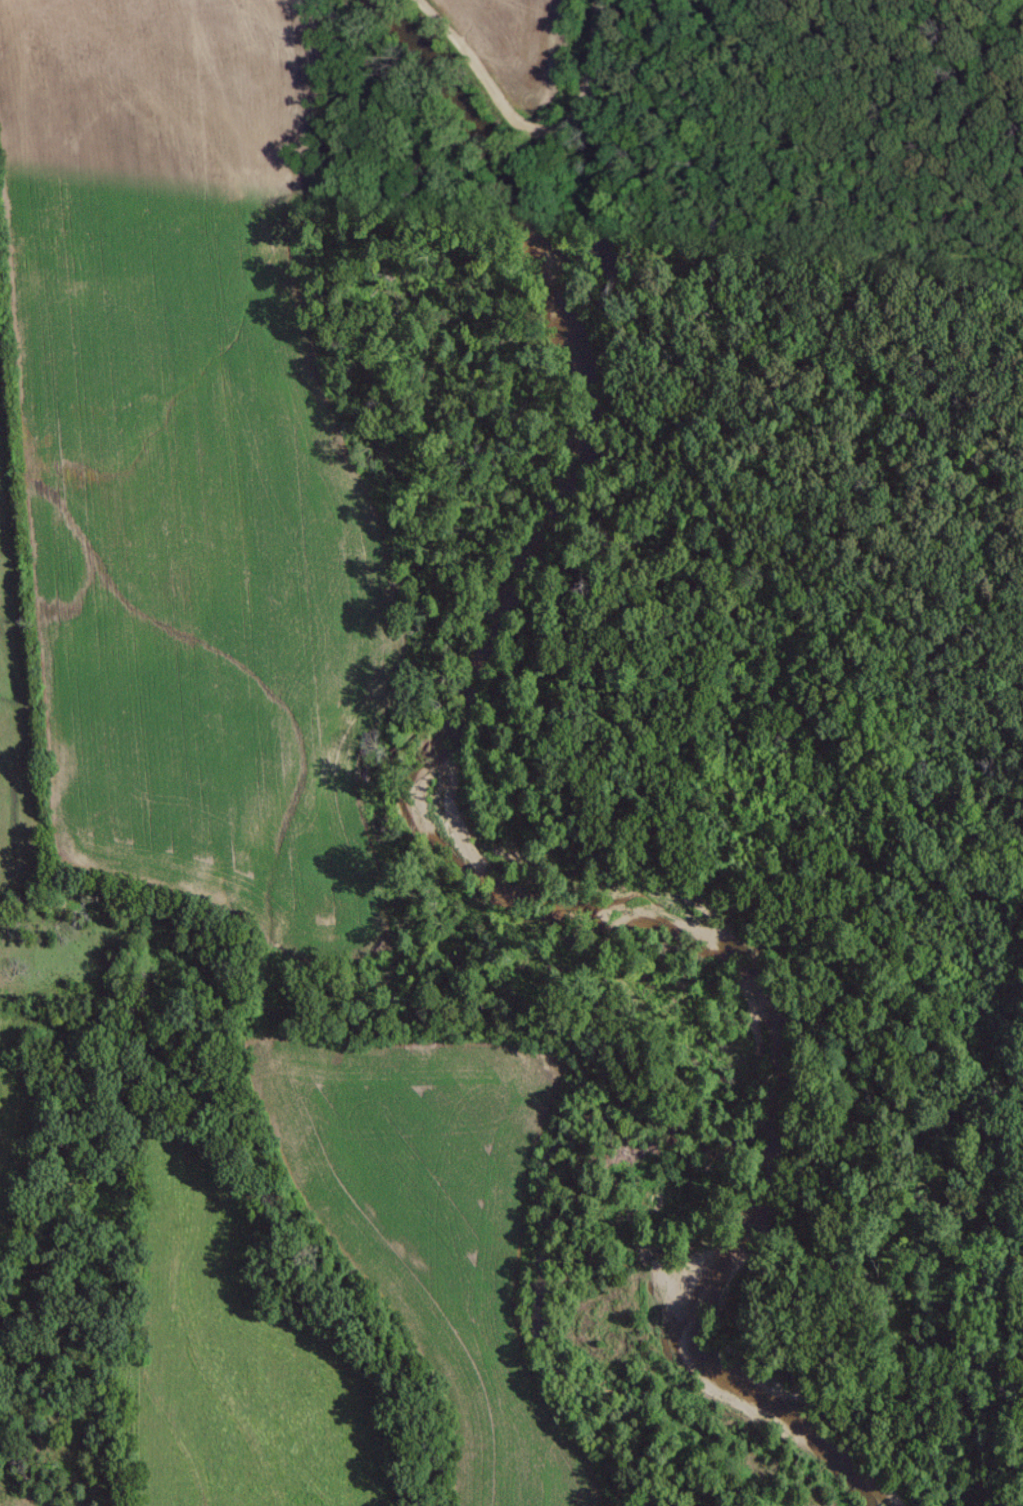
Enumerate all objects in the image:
road: (534, 58)

